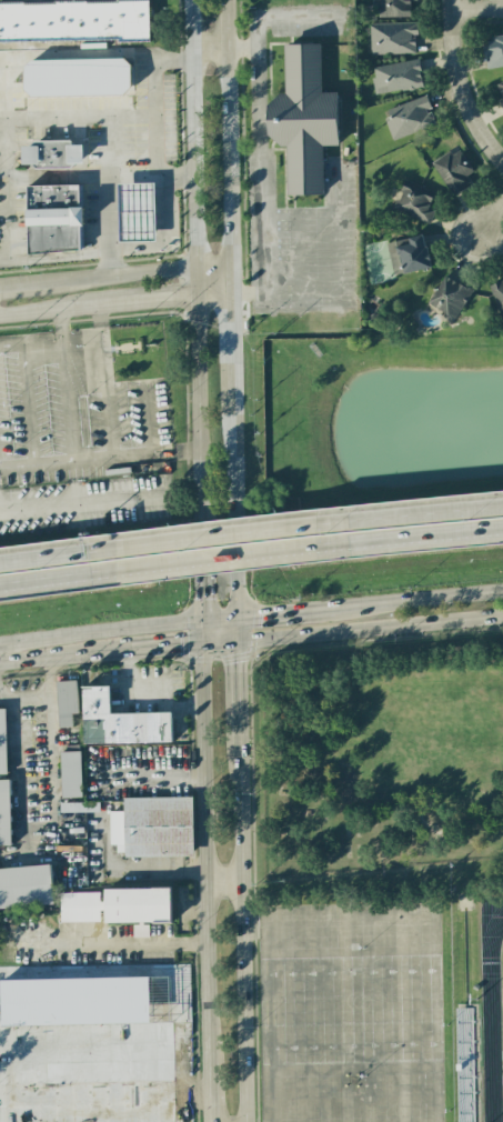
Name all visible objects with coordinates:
building: (391, 8)
road: (476, 8)
road: (266, 18)
building: (74, 21)
building: (392, 38)
road: (209, 51)
building: (493, 52)
building: (77, 77)
building: (396, 77)
road: (459, 88)
building: (500, 92)
road: (49, 116)
building: (409, 117)
building: (303, 119)
road: (228, 143)
building: (52, 154)
road: (142, 163)
road: (162, 168)
building: (453, 170)
road: (43, 176)
building: (414, 201)
building: (137, 212)
building: (54, 218)
road: (489, 220)
road: (171, 228)
road: (192, 244)
road: (295, 250)
building: (408, 254)
road: (261, 269)
building: (502, 273)
road: (118, 276)
road: (245, 290)
building: (450, 297)
road: (155, 298)
building: (497, 298)
road: (41, 310)
road: (61, 324)
road: (229, 325)
road: (50, 342)
road: (104, 382)
road: (162, 393)
road: (68, 402)
road: (27, 407)
road: (97, 462)
road: (232, 495)
road: (391, 515)
road: (213, 534)
road: (392, 542)
road: (74, 550)
road: (198, 561)
road: (215, 561)
railway: (251, 575)
road: (74, 579)
traffic signals: (199, 597)
road: (433, 601)
road: (299, 613)
traffic signals: (260, 617)
road: (369, 628)
road: (219, 631)
traffic signals: (179, 634)
road: (100, 641)
traffic signals: (238, 663)
road: (238, 680)
road: (30, 694)
building: (66, 702)
road: (191, 704)
road: (50, 708)
road: (181, 718)
building: (120, 721)
building: (2, 742)
park: (381, 758)
road: (13, 760)
building: (70, 774)
building: (4, 813)
building: (152, 828)
road: (203, 848)
road: (121, 870)
building: (26, 886)
building: (118, 905)
road: (351, 925)
road: (239, 926)
road: (253, 929)
road: (132, 943)
stadium: (477, 989)
track: (491, 1008)
road: (207, 1092)

